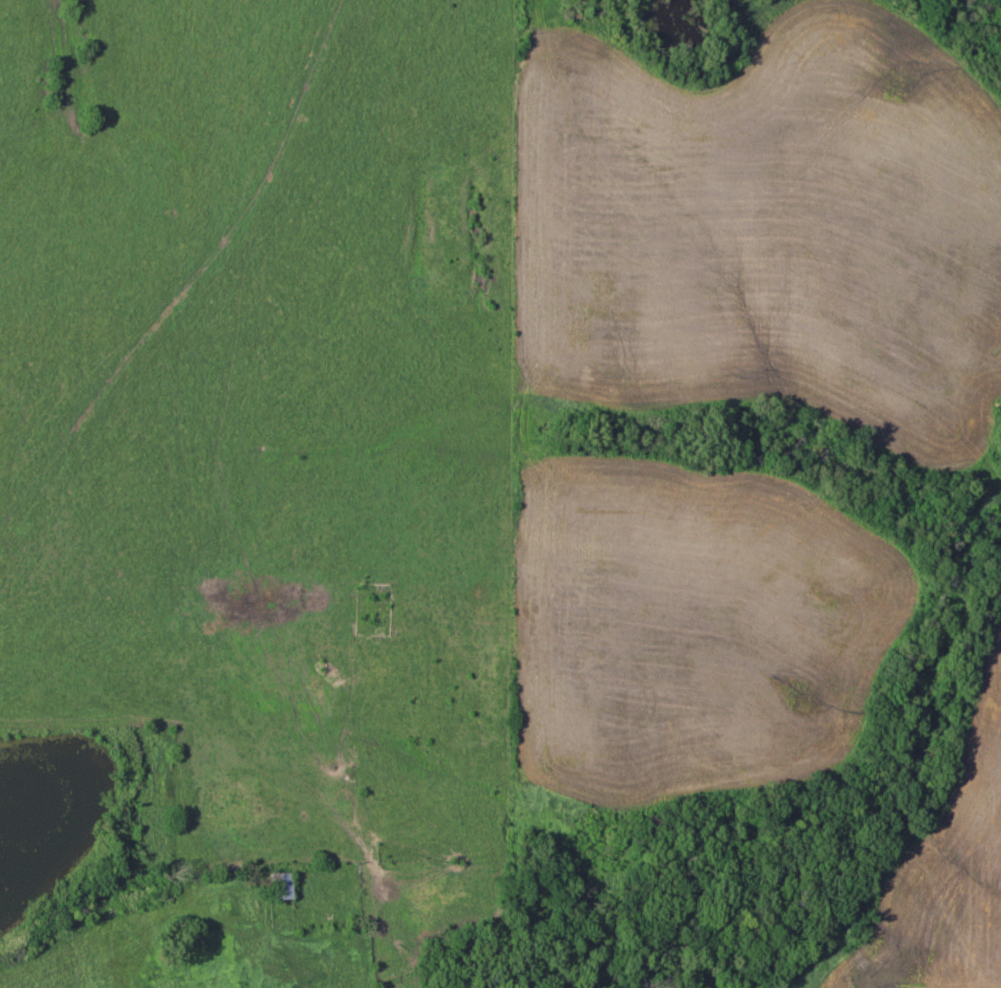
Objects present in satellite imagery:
building: (279, 886)

